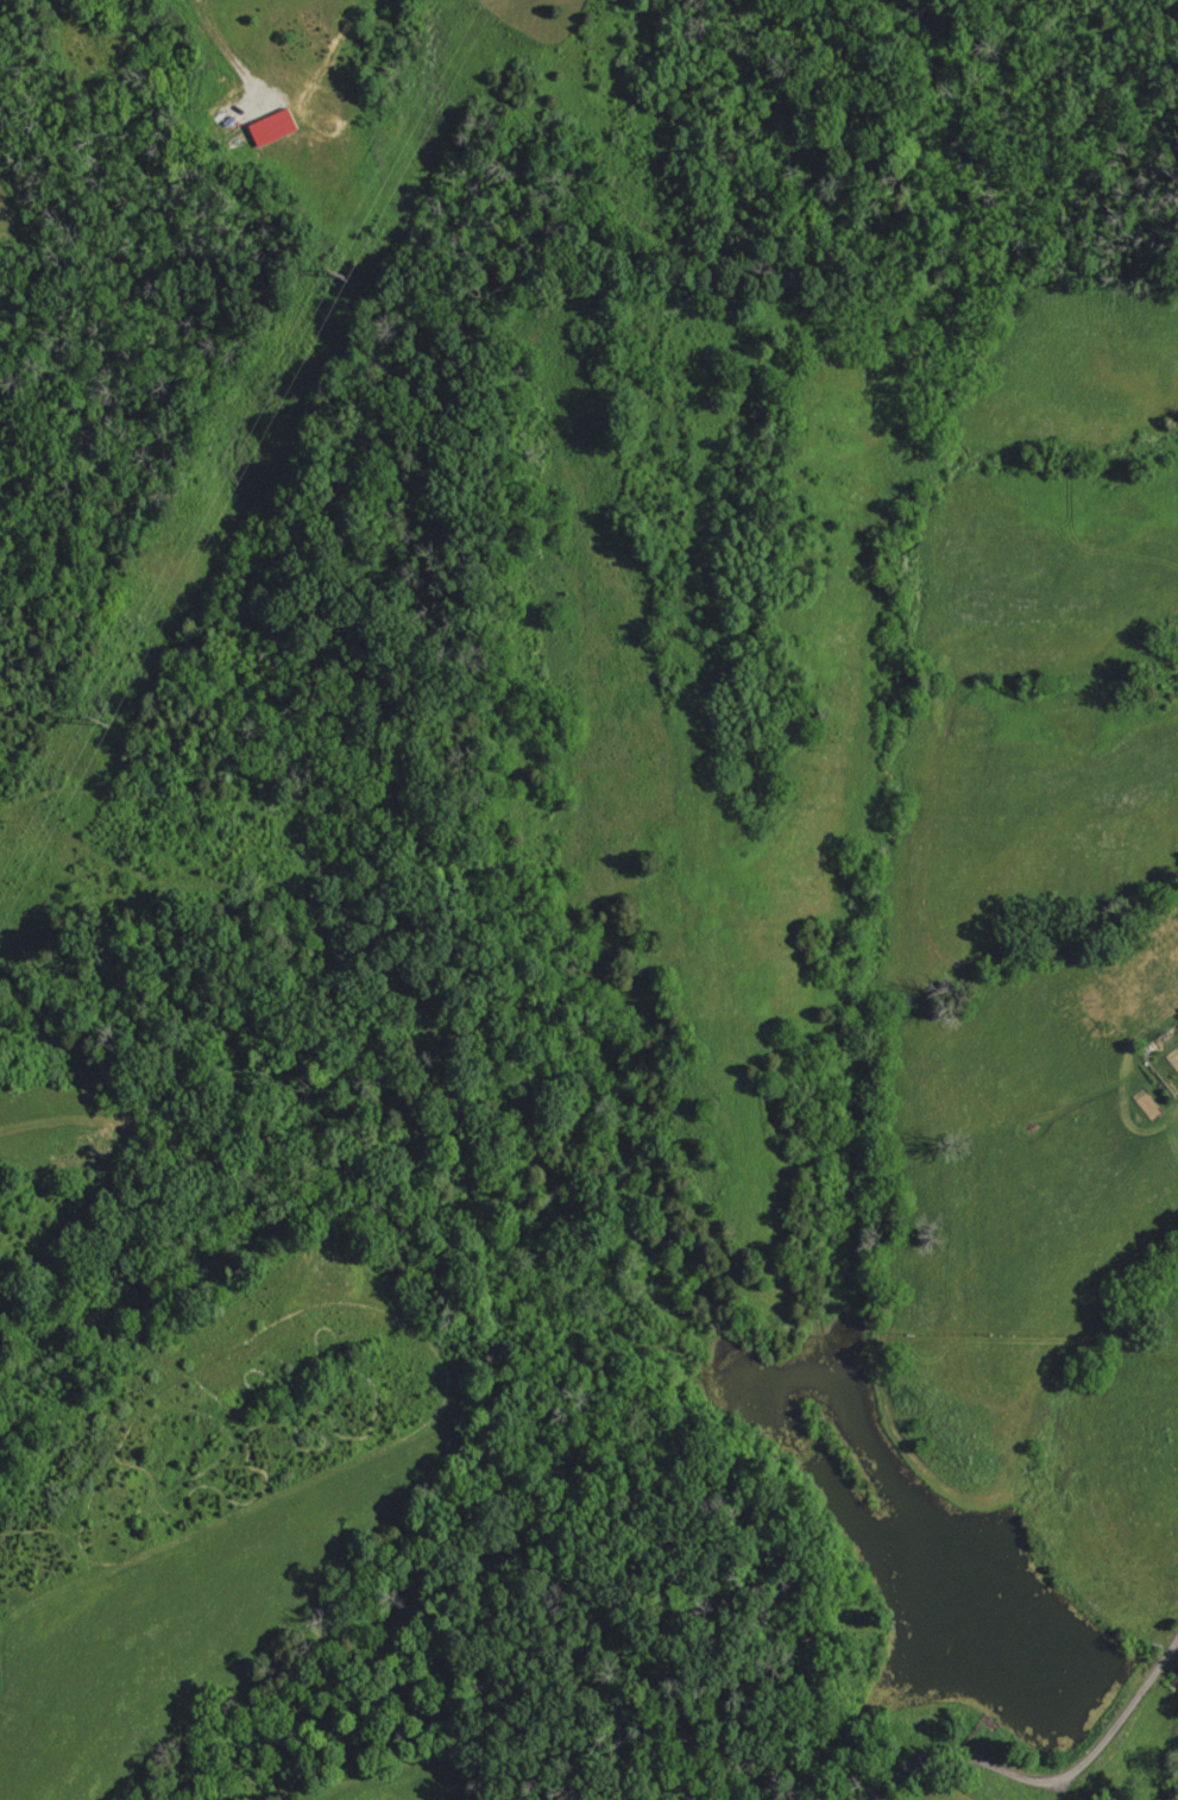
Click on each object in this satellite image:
building: (277, 126)
road: (1035, 1770)

